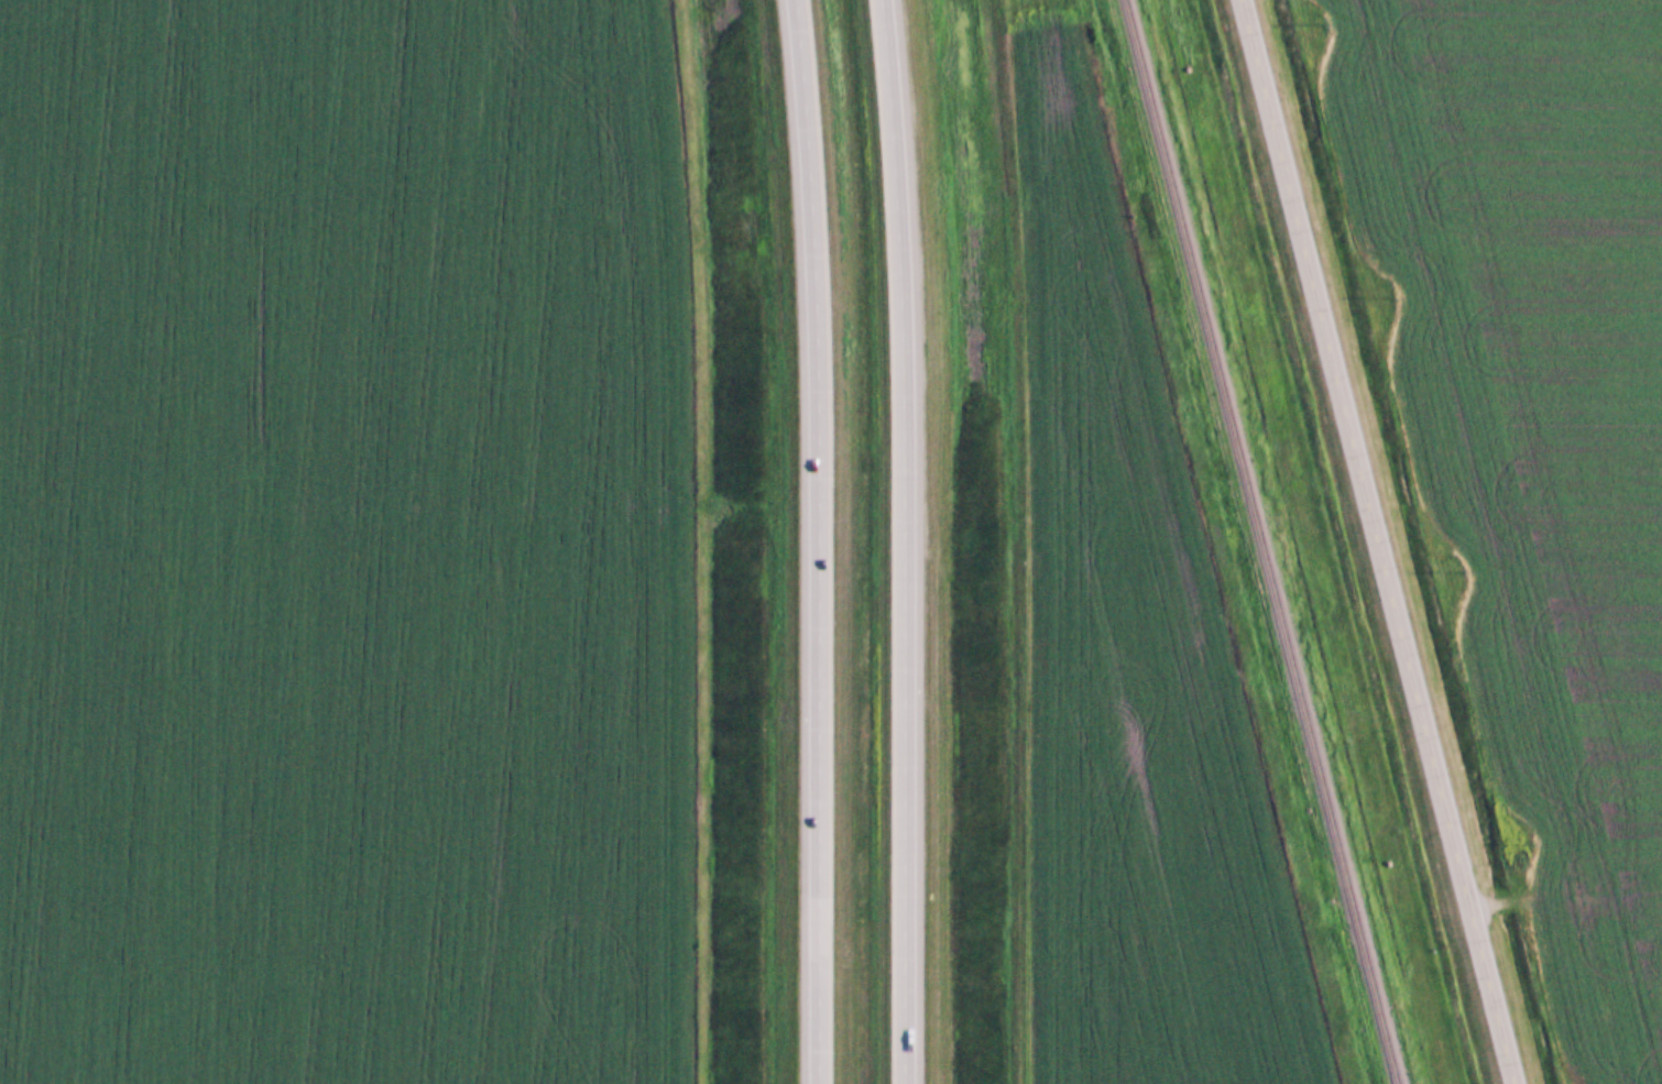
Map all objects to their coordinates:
road: (1386, 540)
road: (817, 541)
road: (908, 541)
railway: (1257, 541)

